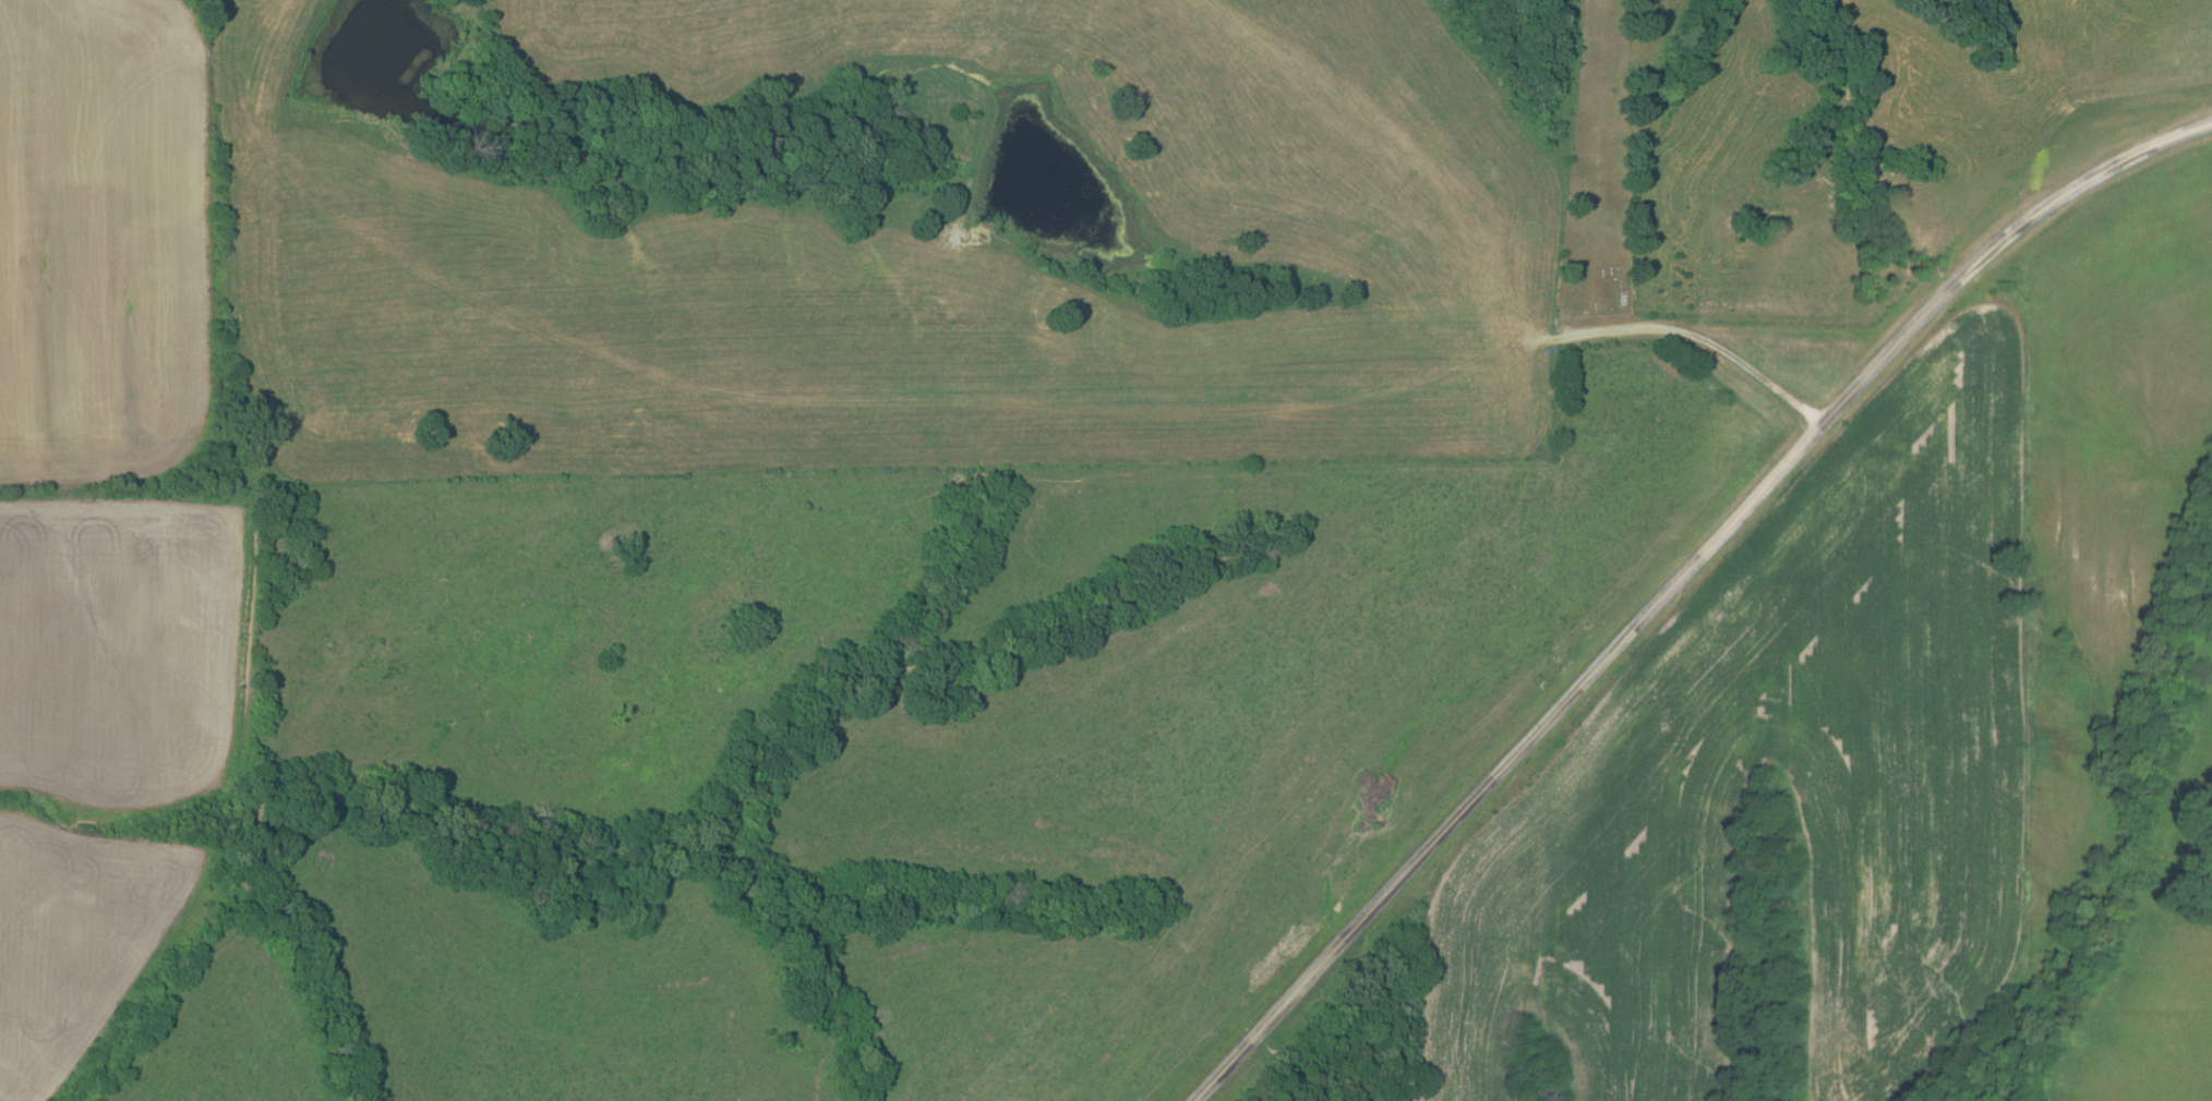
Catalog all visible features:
park: (1595, 170)
road: (1690, 338)
road: (1678, 580)

